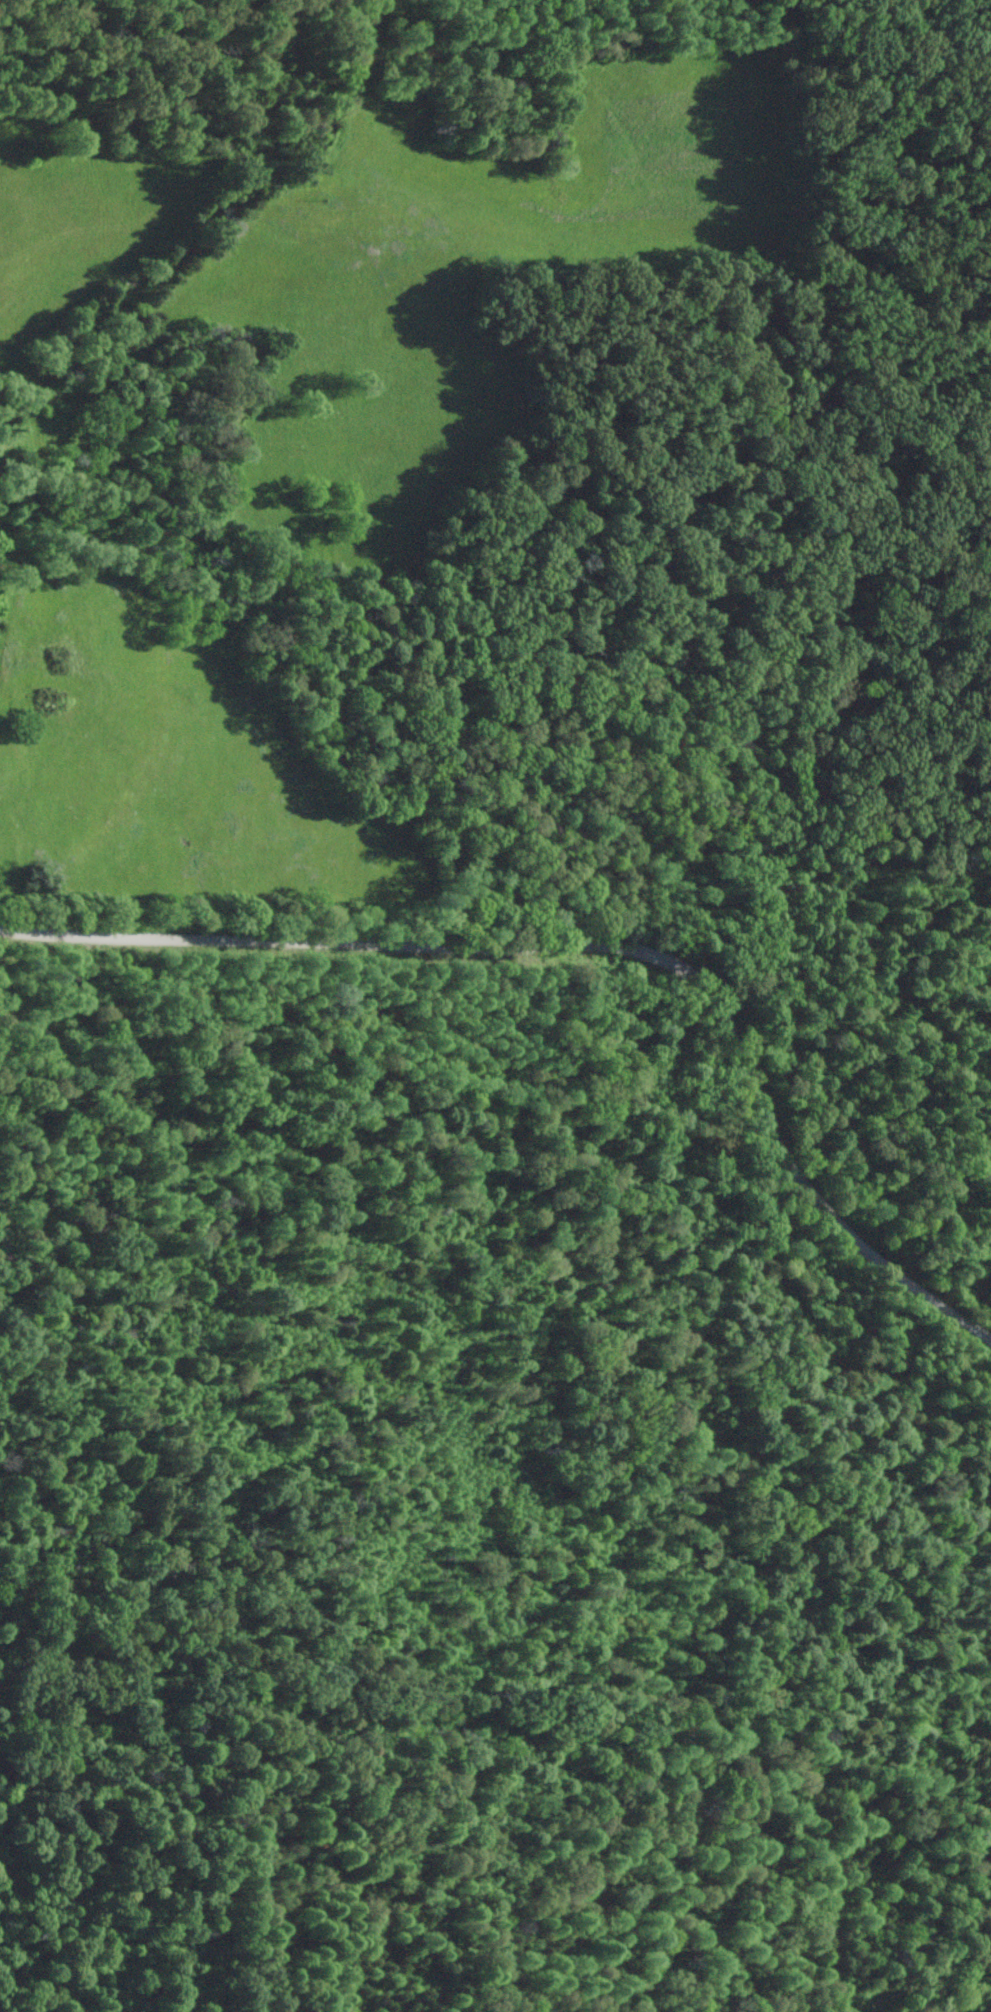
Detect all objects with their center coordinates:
road: (591, 945)

